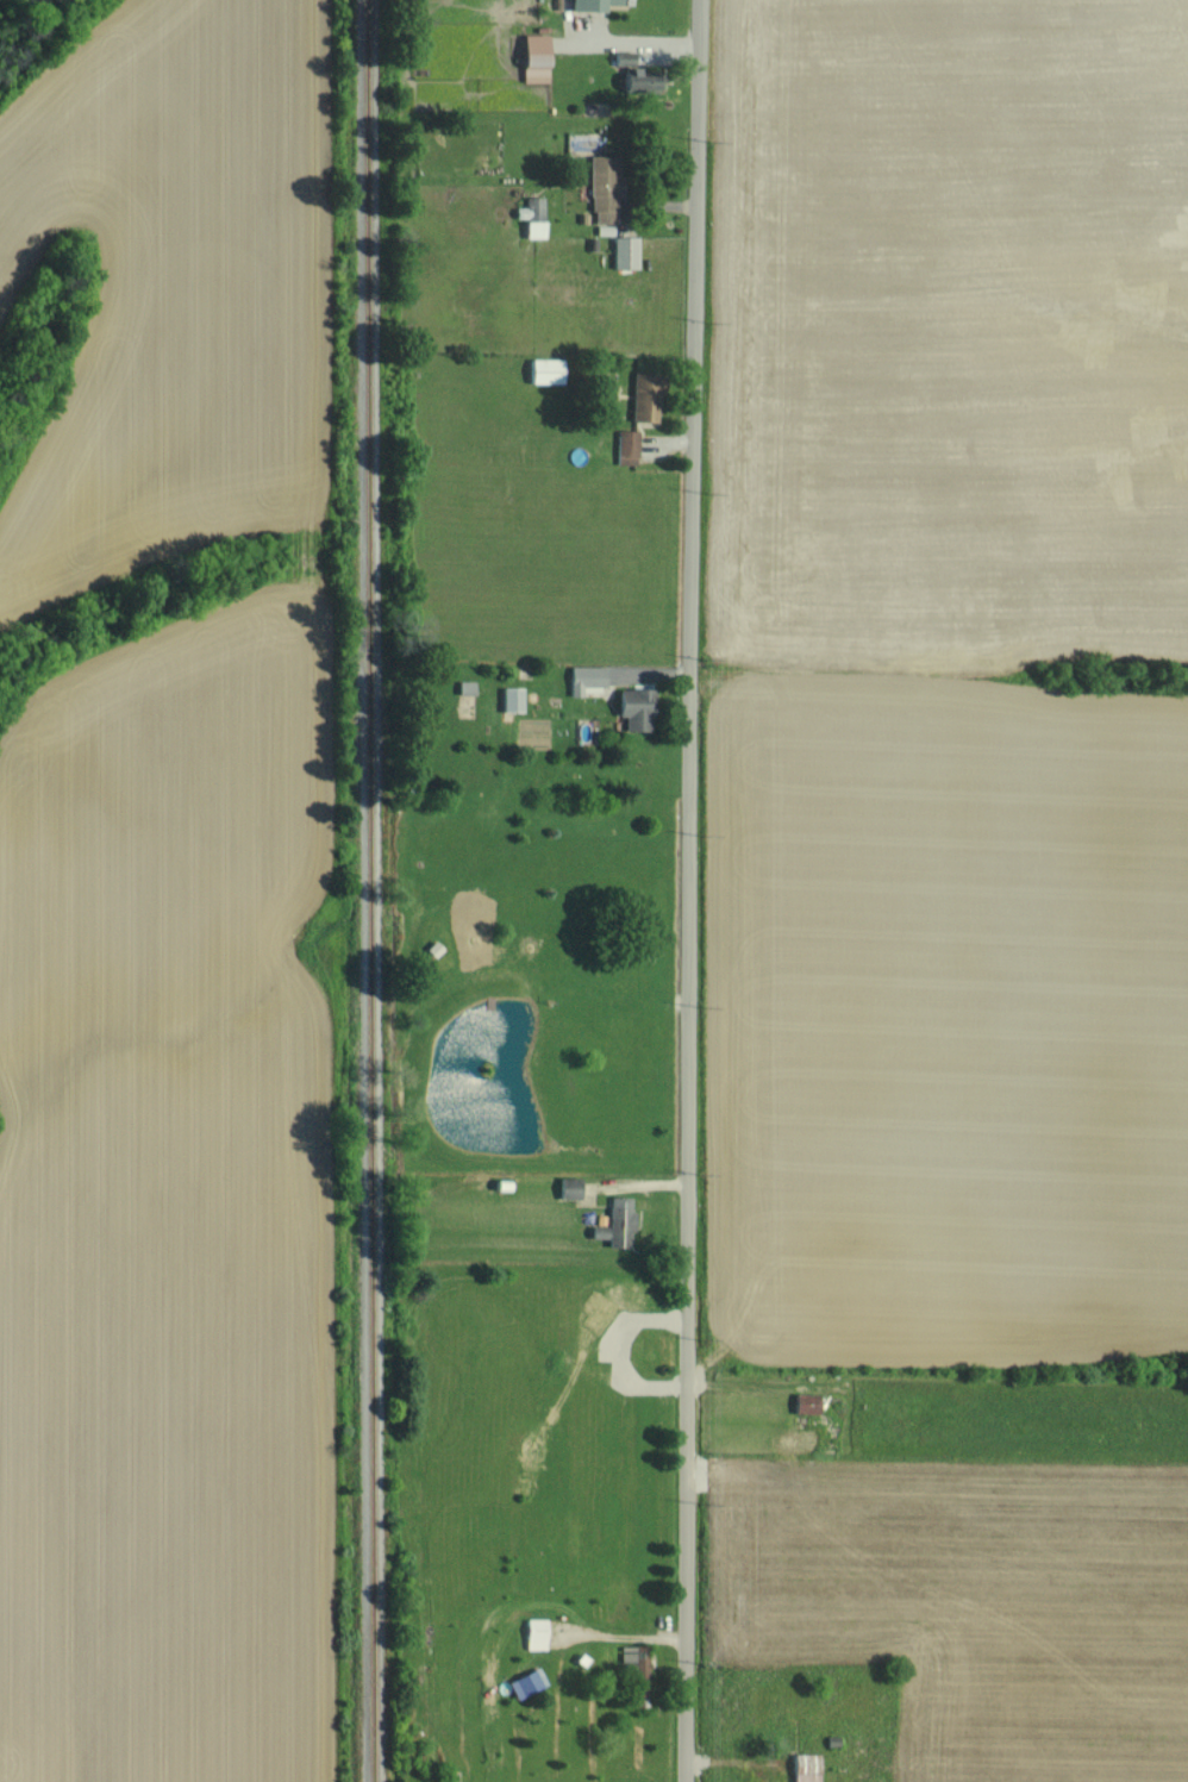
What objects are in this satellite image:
building: (589, 4)
building: (533, 57)
building: (638, 80)
building: (531, 217)
building: (624, 251)
building: (544, 369)
building: (643, 395)
building: (626, 445)
building: (584, 677)
building: (464, 686)
building: (511, 699)
building: (634, 707)
railway: (371, 890)
road: (687, 890)
building: (568, 1187)
building: (619, 1205)
building: (805, 1402)
building: (534, 1633)
building: (526, 1682)
building: (805, 1767)

